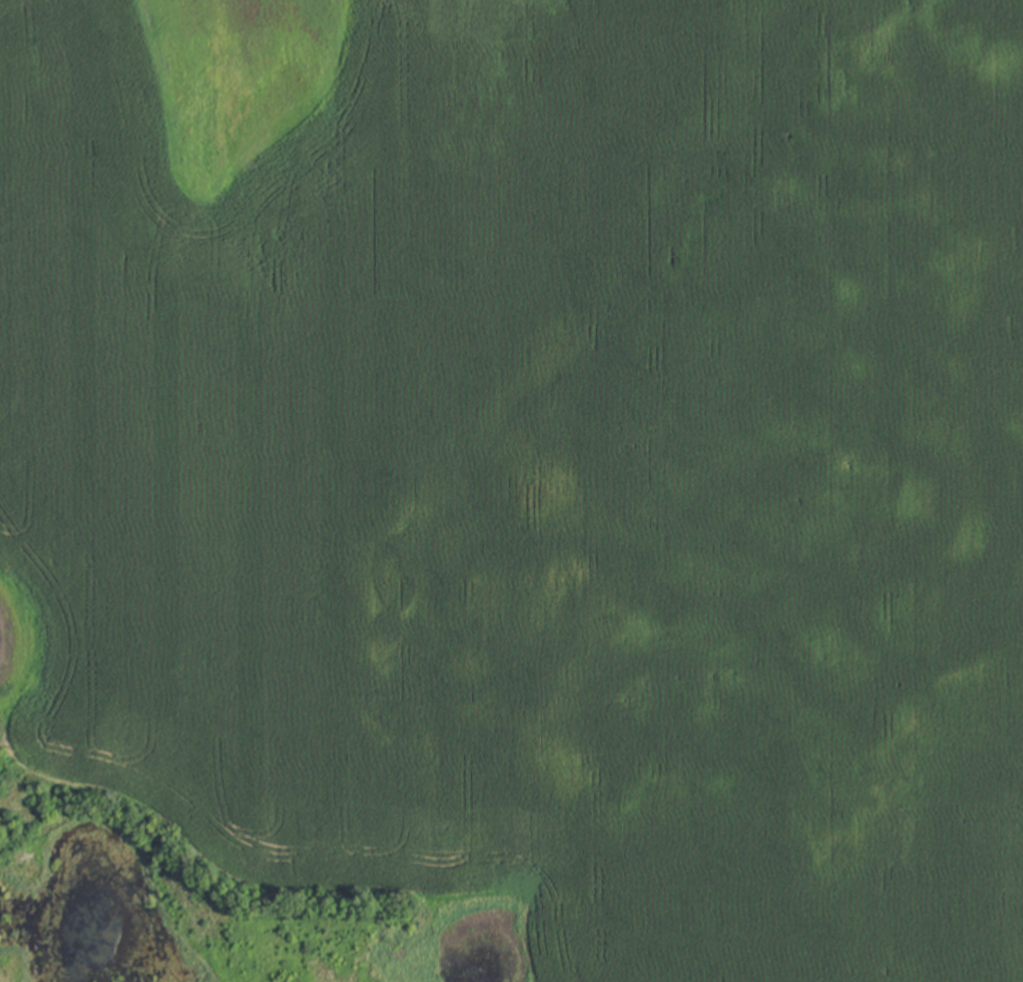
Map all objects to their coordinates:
park: (181, 918)

